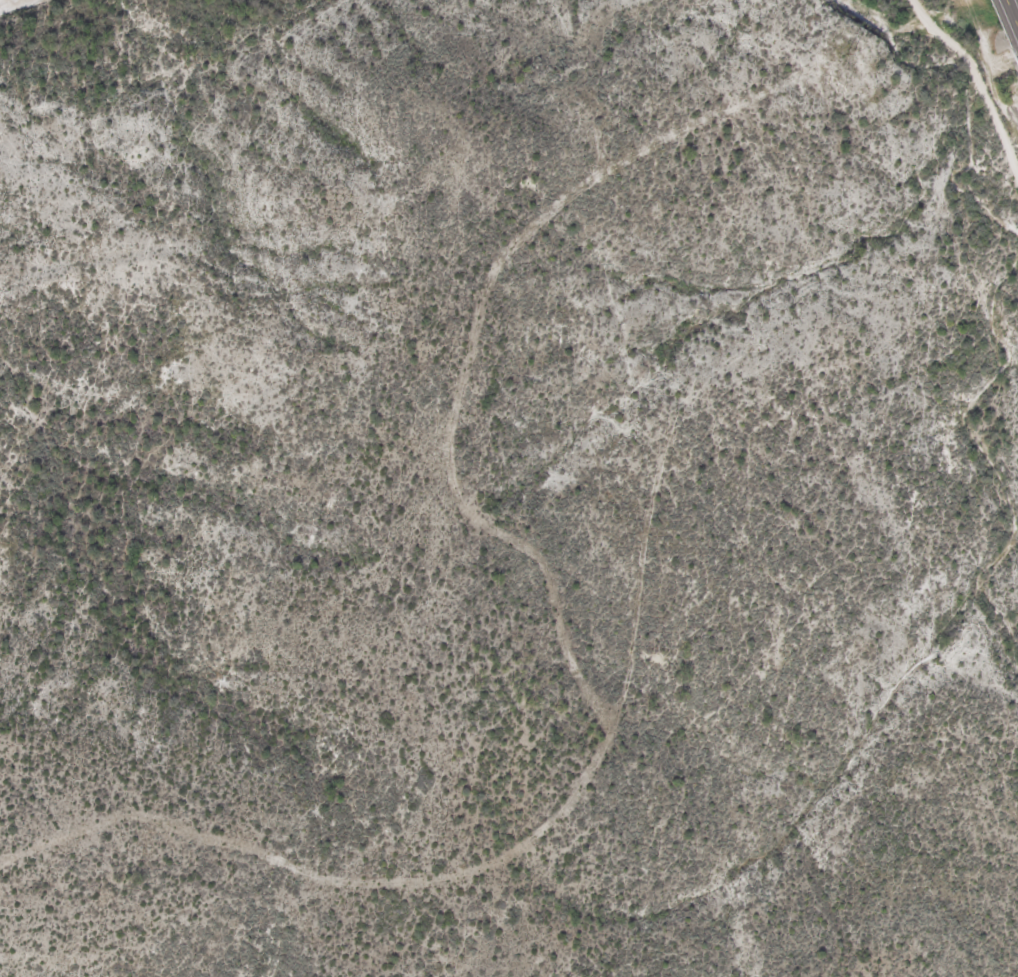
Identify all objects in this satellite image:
road: (1007, 21)
power tower: (846, 54)

